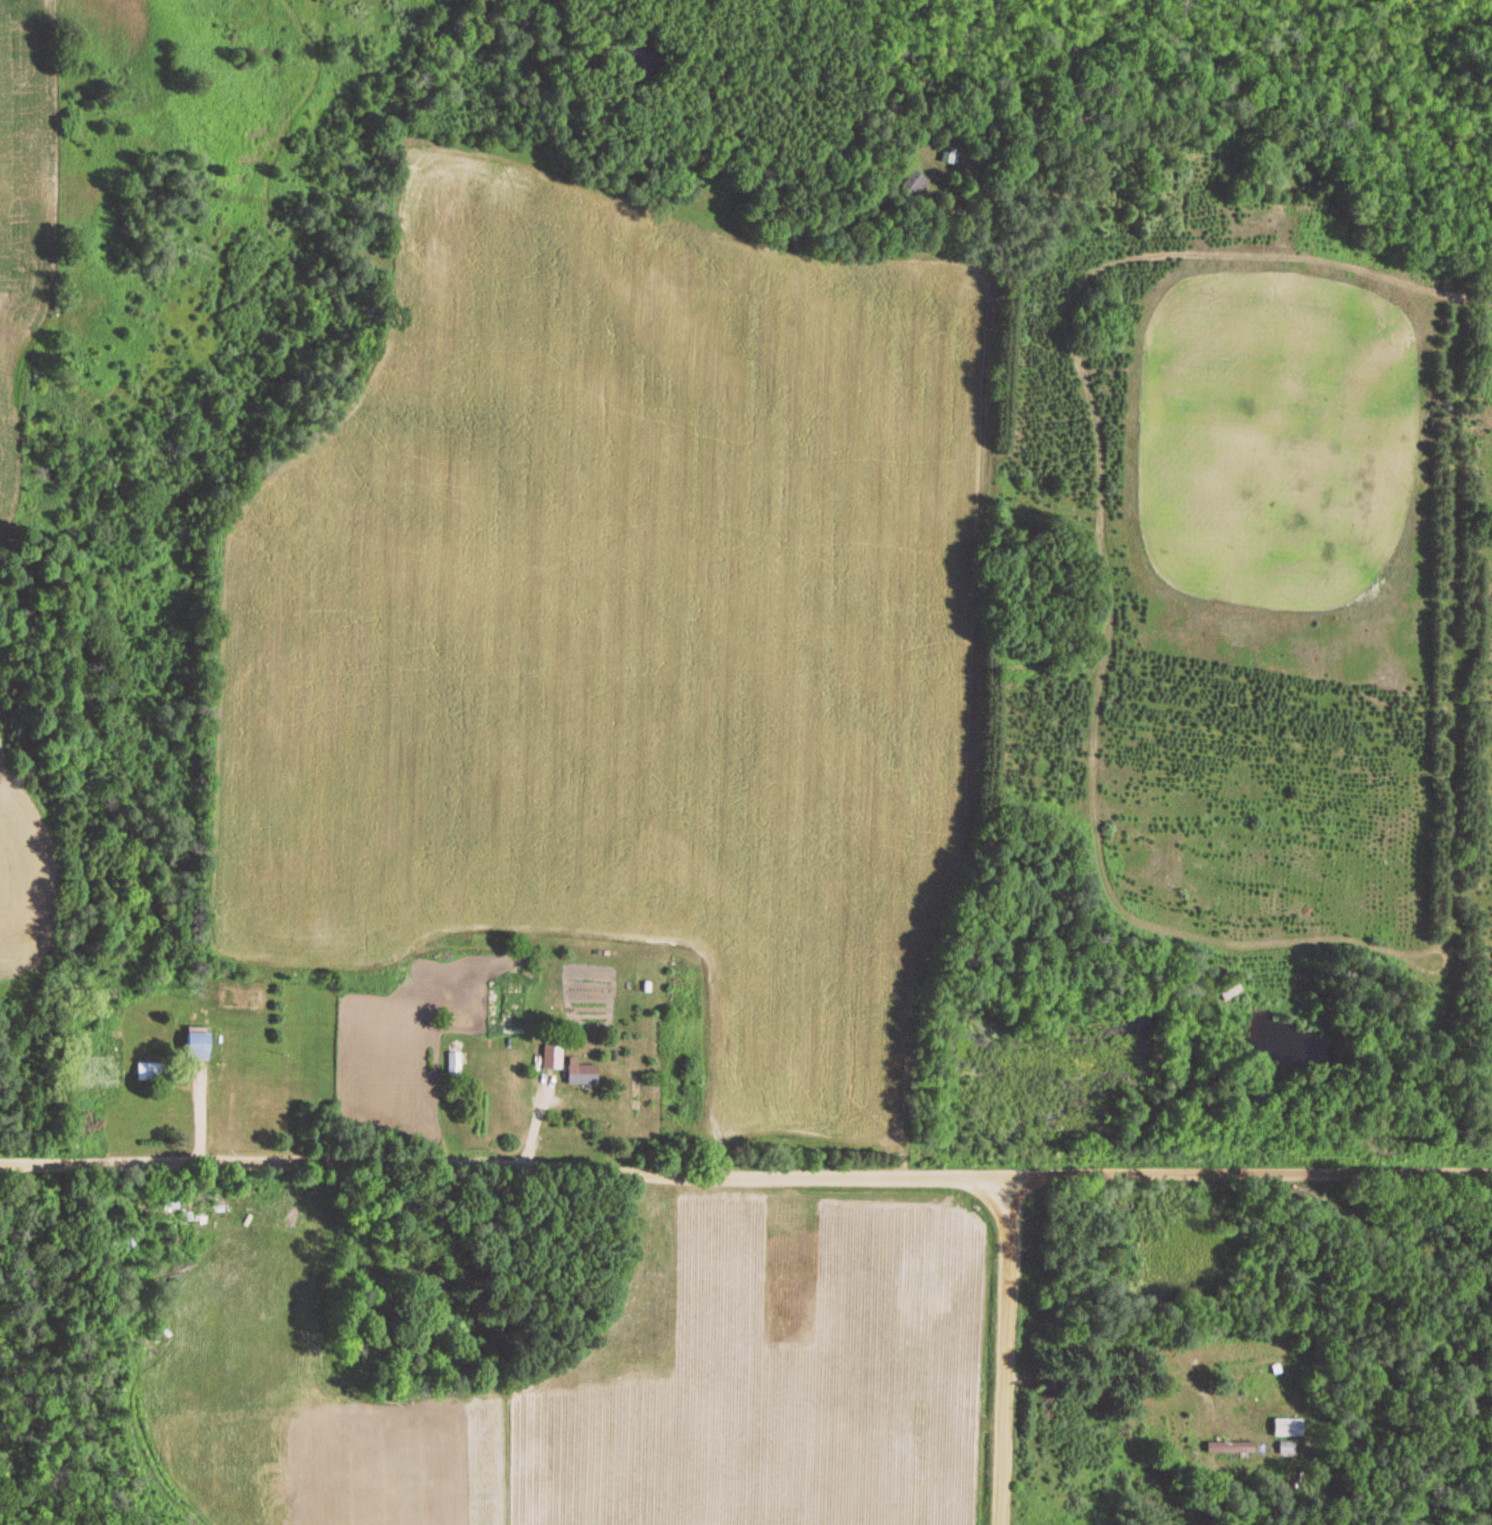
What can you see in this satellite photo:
crop: (23, 198)
crop: (623, 620)
crop: (22, 864)
building: (1226, 991)
building: (192, 1047)
building: (452, 1064)
building: (145, 1072)
building: (579, 1075)
road: (746, 1153)
road: (989, 1339)
building: (1225, 1448)
building: (1283, 1449)

